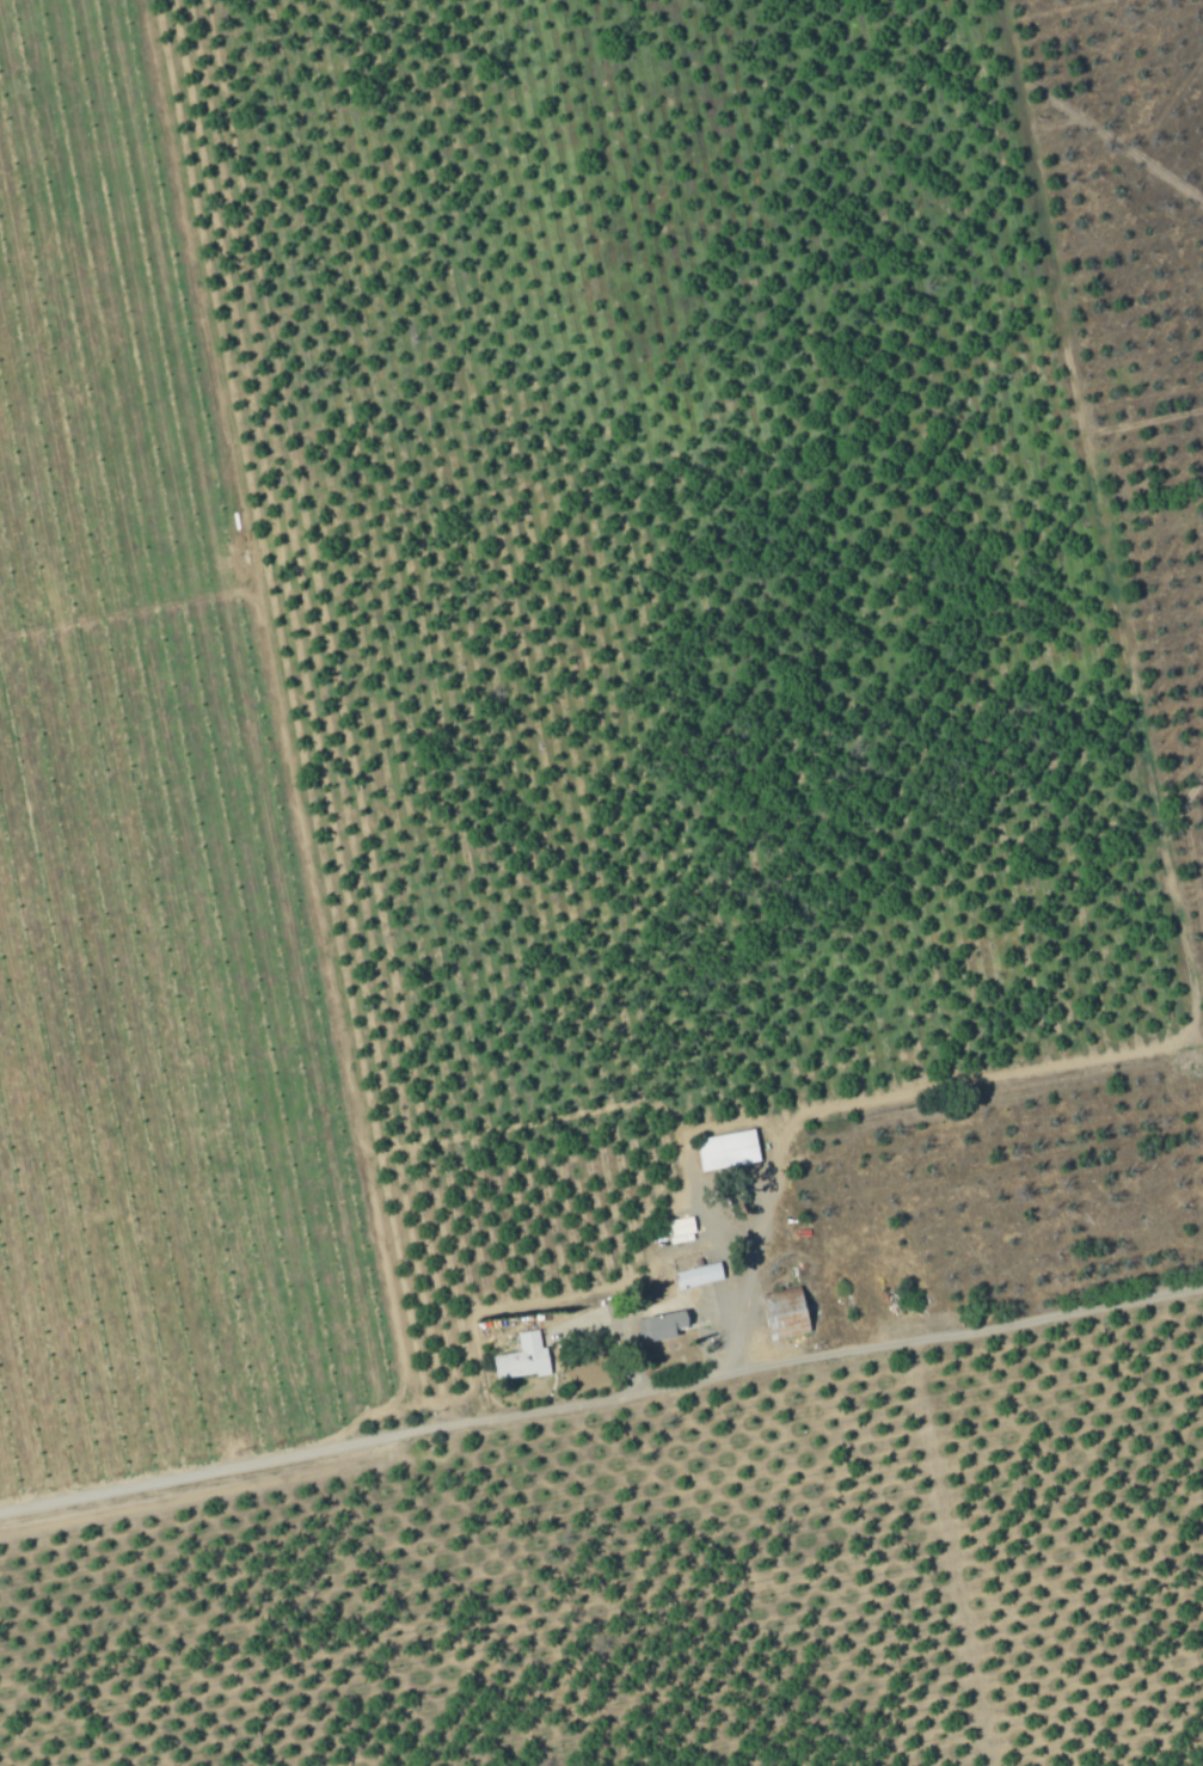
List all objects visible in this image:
road: (994, 1072)
building: (730, 1148)
building: (693, 1275)
building: (668, 1323)
building: (524, 1355)
road: (601, 1397)

